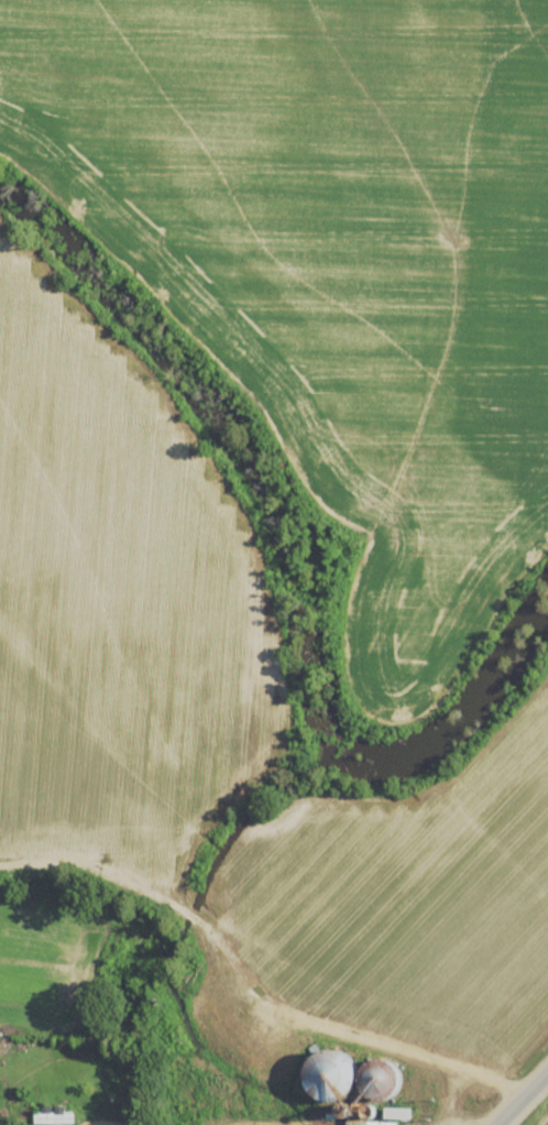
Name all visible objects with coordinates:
road: (526, 1104)
building: (55, 1116)
building: (376, 1123)

